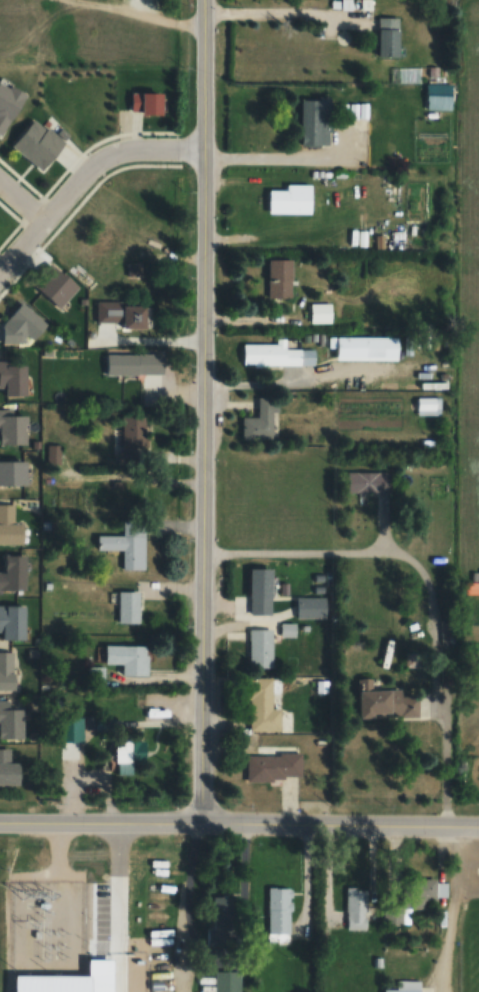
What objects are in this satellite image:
road: (196, 34)
building: (388, 36)
building: (147, 102)
building: (9, 103)
building: (315, 121)
building: (38, 143)
road: (83, 177)
road: (23, 194)
building: (290, 199)
road: (195, 211)
building: (106, 240)
building: (279, 280)
building: (55, 286)
building: (320, 313)
building: (128, 316)
building: (23, 326)
building: (366, 348)
building: (276, 354)
building: (122, 364)
building: (14, 378)
building: (434, 406)
building: (261, 421)
building: (13, 426)
building: (133, 437)
road: (194, 447)
building: (52, 454)
building: (13, 473)
building: (369, 482)
building: (10, 526)
building: (126, 545)
building: (14, 574)
building: (261, 591)
road: (194, 602)
building: (128, 607)
building: (311, 607)
building: (12, 622)
building: (260, 649)
building: (127, 658)
building: (7, 671)
building: (387, 701)
building: (263, 706)
building: (10, 722)
road: (196, 743)
building: (126, 757)
building: (273, 765)
building: (8, 768)
road: (19, 819)
road: (82, 820)
road: (303, 822)
building: (425, 890)
building: (355, 907)
road: (444, 909)
building: (391, 913)
building: (278, 915)
building: (220, 921)
power substation: (45, 927)
park: (470, 944)
building: (227, 981)
building: (407, 986)

